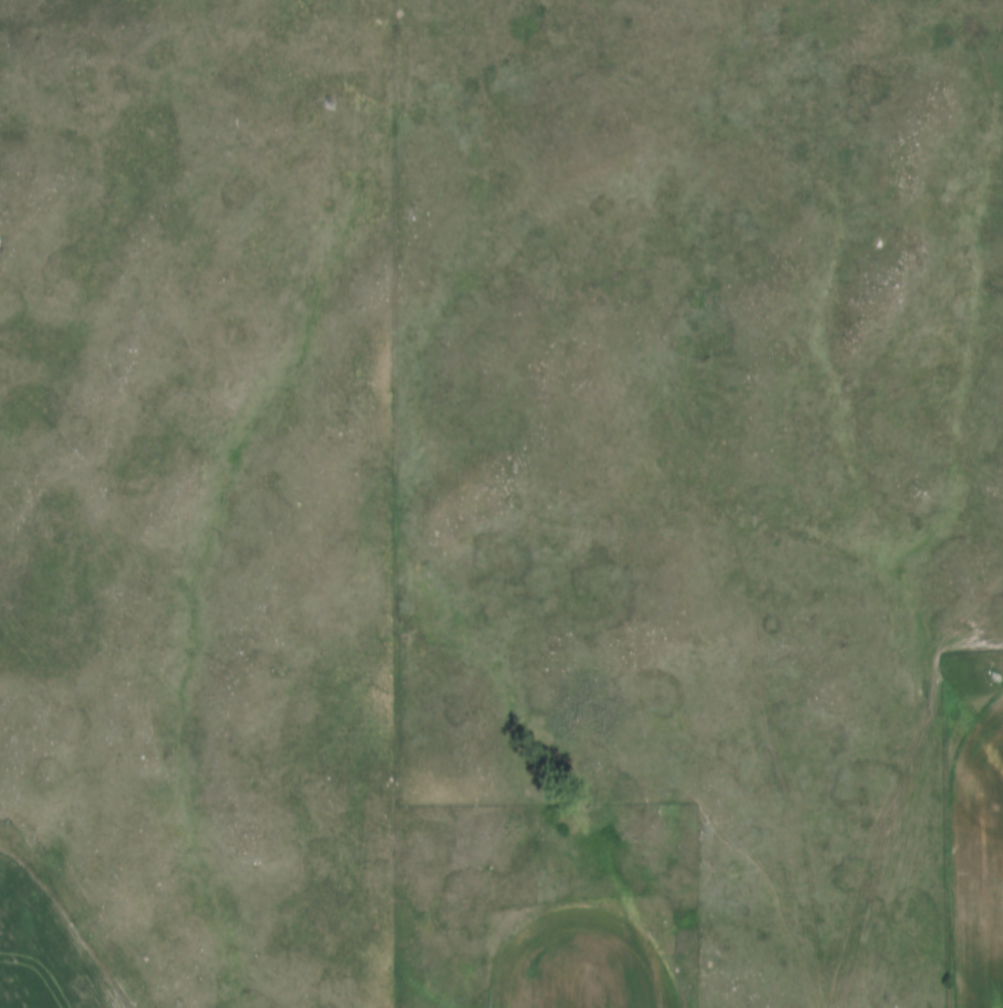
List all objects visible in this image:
crop: (46, 946)

